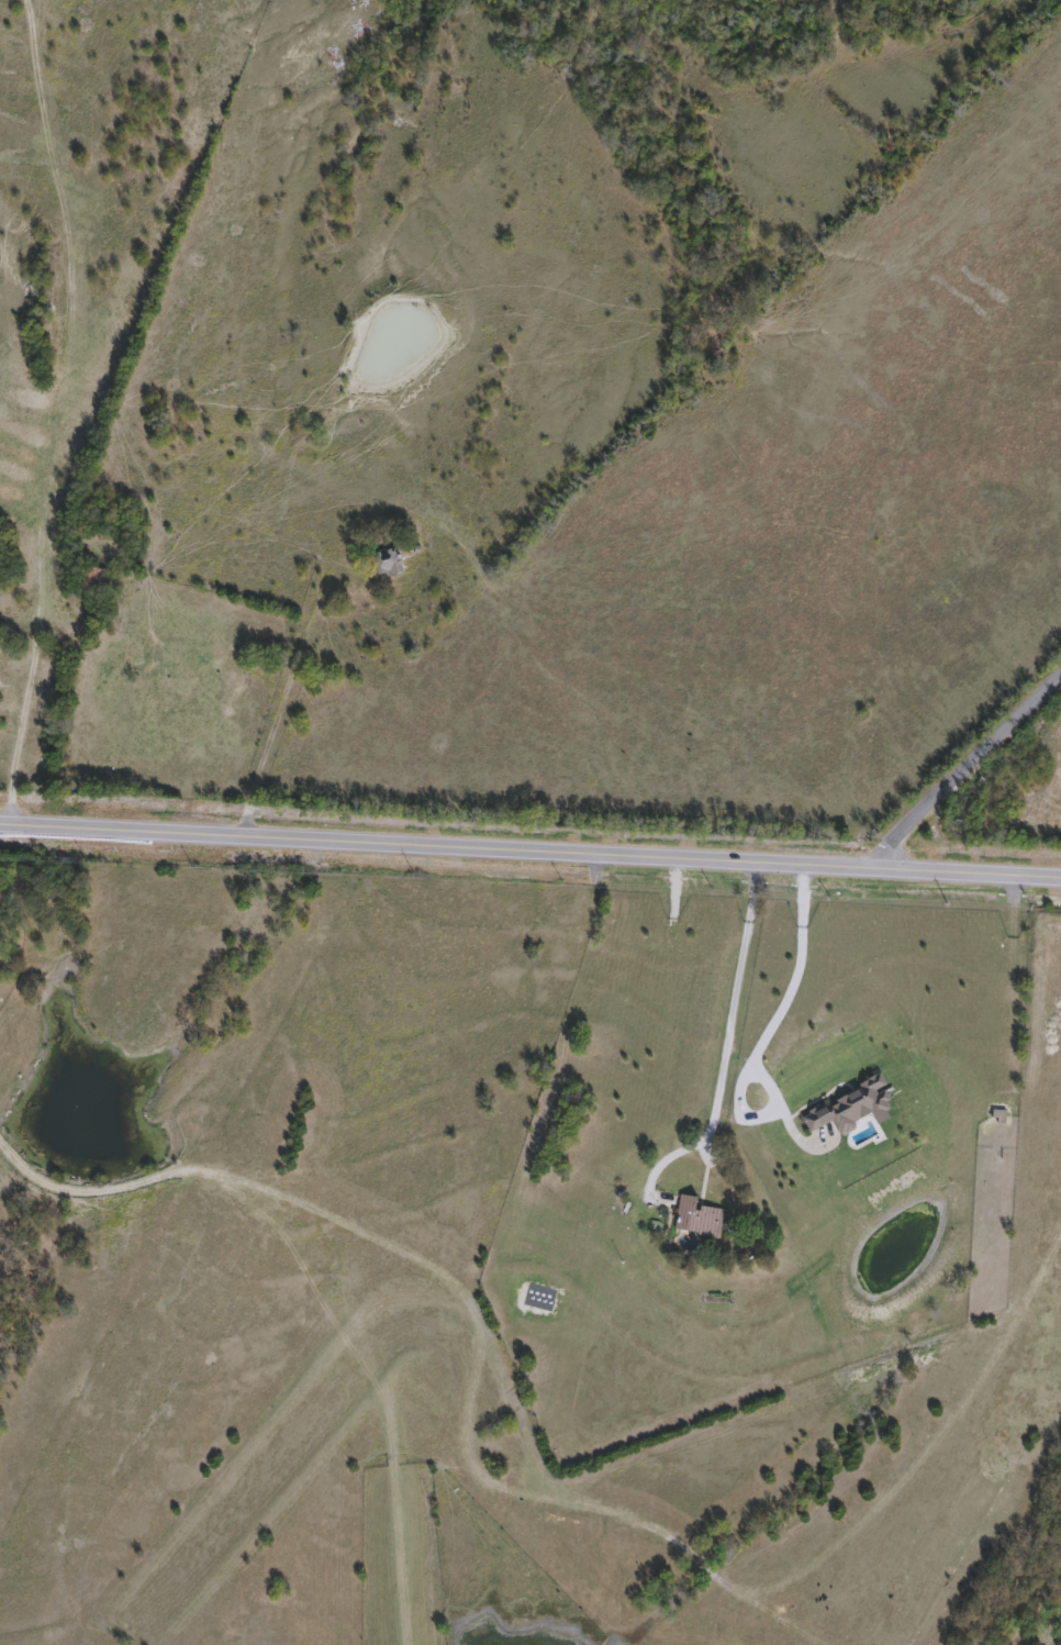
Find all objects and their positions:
building: (388, 564)
road: (333, 567)
building: (90, 581)
road: (25, 693)
road: (275, 718)
road: (968, 771)
road: (530, 849)
road: (777, 1015)
road: (724, 1042)
building: (700, 1220)
road: (554, 1481)

